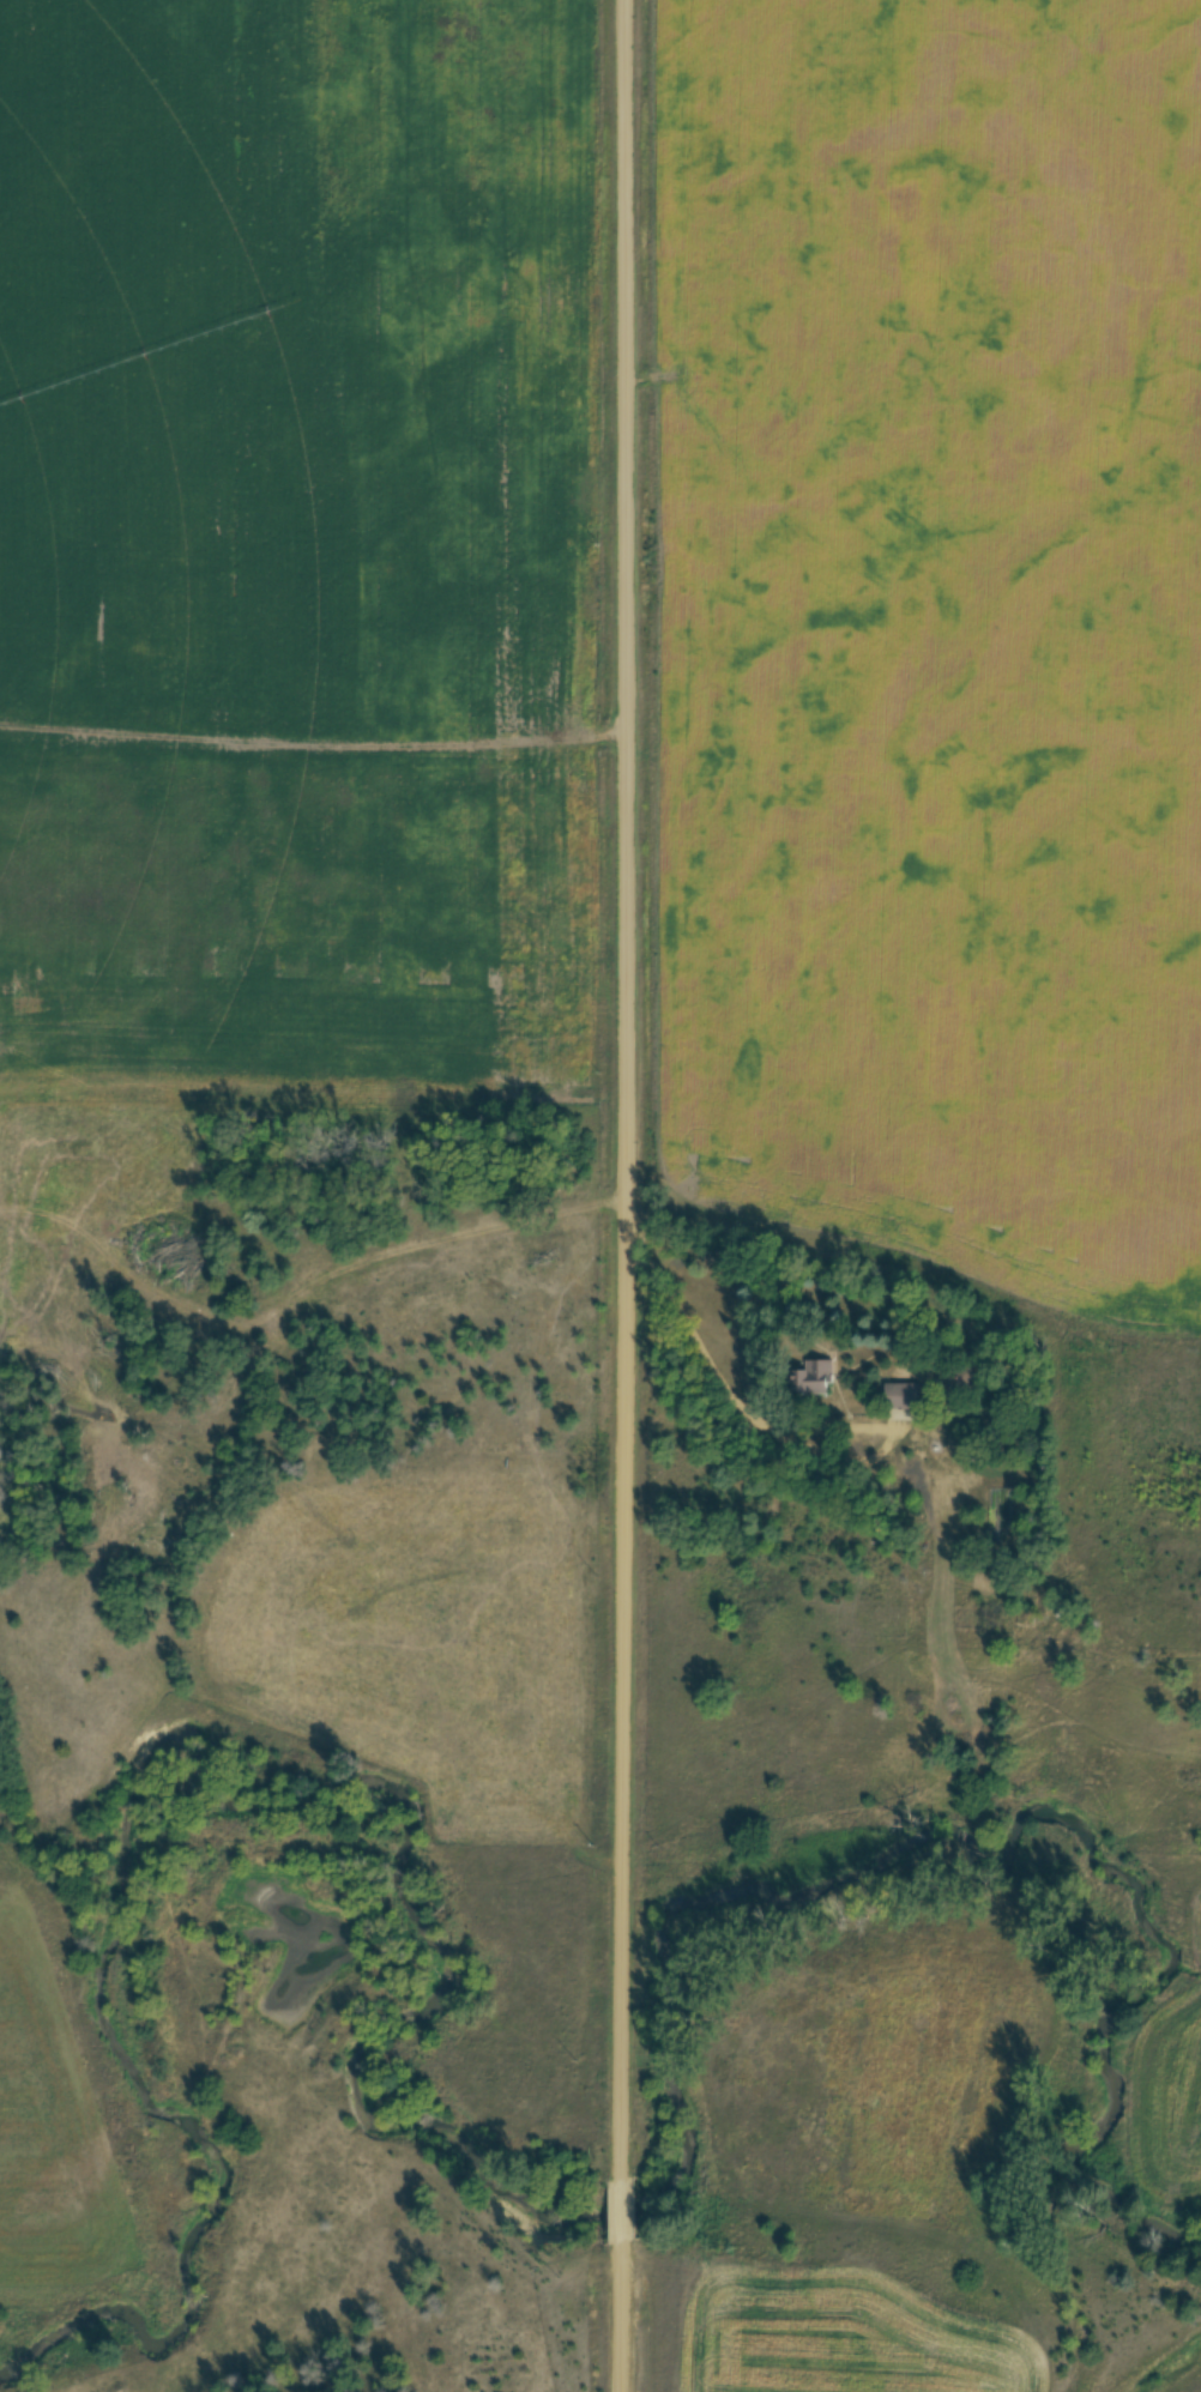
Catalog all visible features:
road: (626, 1196)
building: (810, 1375)
building: (899, 1396)

